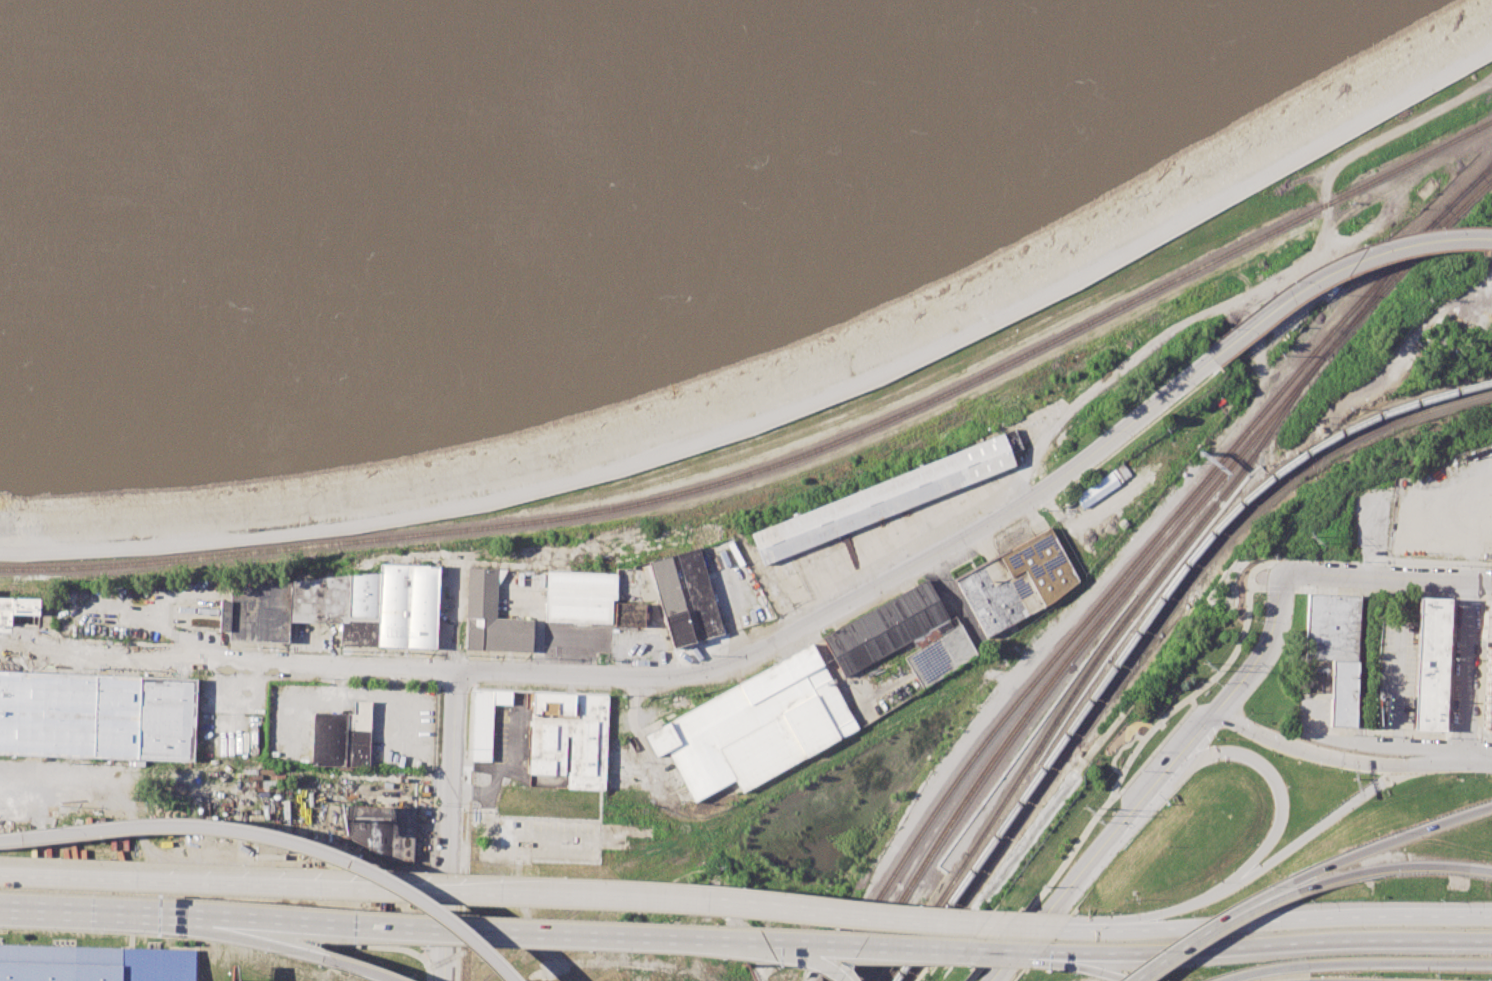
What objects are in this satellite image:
river: (374, 120)
railway: (1470, 185)
railway: (1470, 188)
railway: (1341, 190)
railway: (1391, 252)
road: (1339, 268)
railway: (1384, 282)
railway: (1302, 448)
railway: (1204, 451)
railway: (1305, 453)
railway: (780, 462)
railway: (1280, 483)
building: (1096, 490)
building: (882, 498)
power tower: (1311, 542)
railway: (1149, 563)
road: (1388, 577)
railway: (1119, 580)
building: (581, 581)
building: (1016, 582)
road: (1264, 587)
building: (699, 593)
building: (671, 601)
building: (373, 605)
building: (578, 605)
building: (16, 608)
building: (256, 613)
building: (628, 613)
building: (491, 616)
building: (1332, 627)
building: (885, 628)
building: (941, 655)
railway: (1095, 659)
building: (1431, 663)
power tower: (1204, 665)
road: (1470, 669)
building: (1489, 673)
road: (652, 675)
road: (1398, 689)
building: (1342, 693)
road: (1362, 705)
building: (68, 714)
building: (166, 718)
building: (485, 720)
building: (755, 726)
building: (341, 737)
building: (569, 737)
railway: (1068, 741)
road: (1305, 751)
road: (1131, 755)
road: (1471, 757)
road: (1427, 760)
railway: (935, 762)
road: (450, 767)
road: (106, 780)
road: (1277, 782)
road: (1151, 785)
railway: (1030, 787)
power tower: (1085, 812)
railway: (1018, 820)
road: (1423, 828)
building: (379, 829)
road: (57, 832)
road: (328, 855)
road: (1265, 863)
road: (1409, 866)
road: (1304, 878)
road: (1290, 892)
road: (531, 897)
road: (69, 906)
railway: (937, 914)
road: (1430, 915)
road: (1239, 921)
road: (224, 927)
road: (1086, 927)
road: (589, 931)
road: (213, 932)
road: (1194, 940)
road: (265, 942)
road: (1284, 944)
road: (1059, 952)
road: (436, 957)
road: (811, 959)
building: (94, 963)
road: (1398, 964)
road: (1102, 969)
road: (1261, 970)

